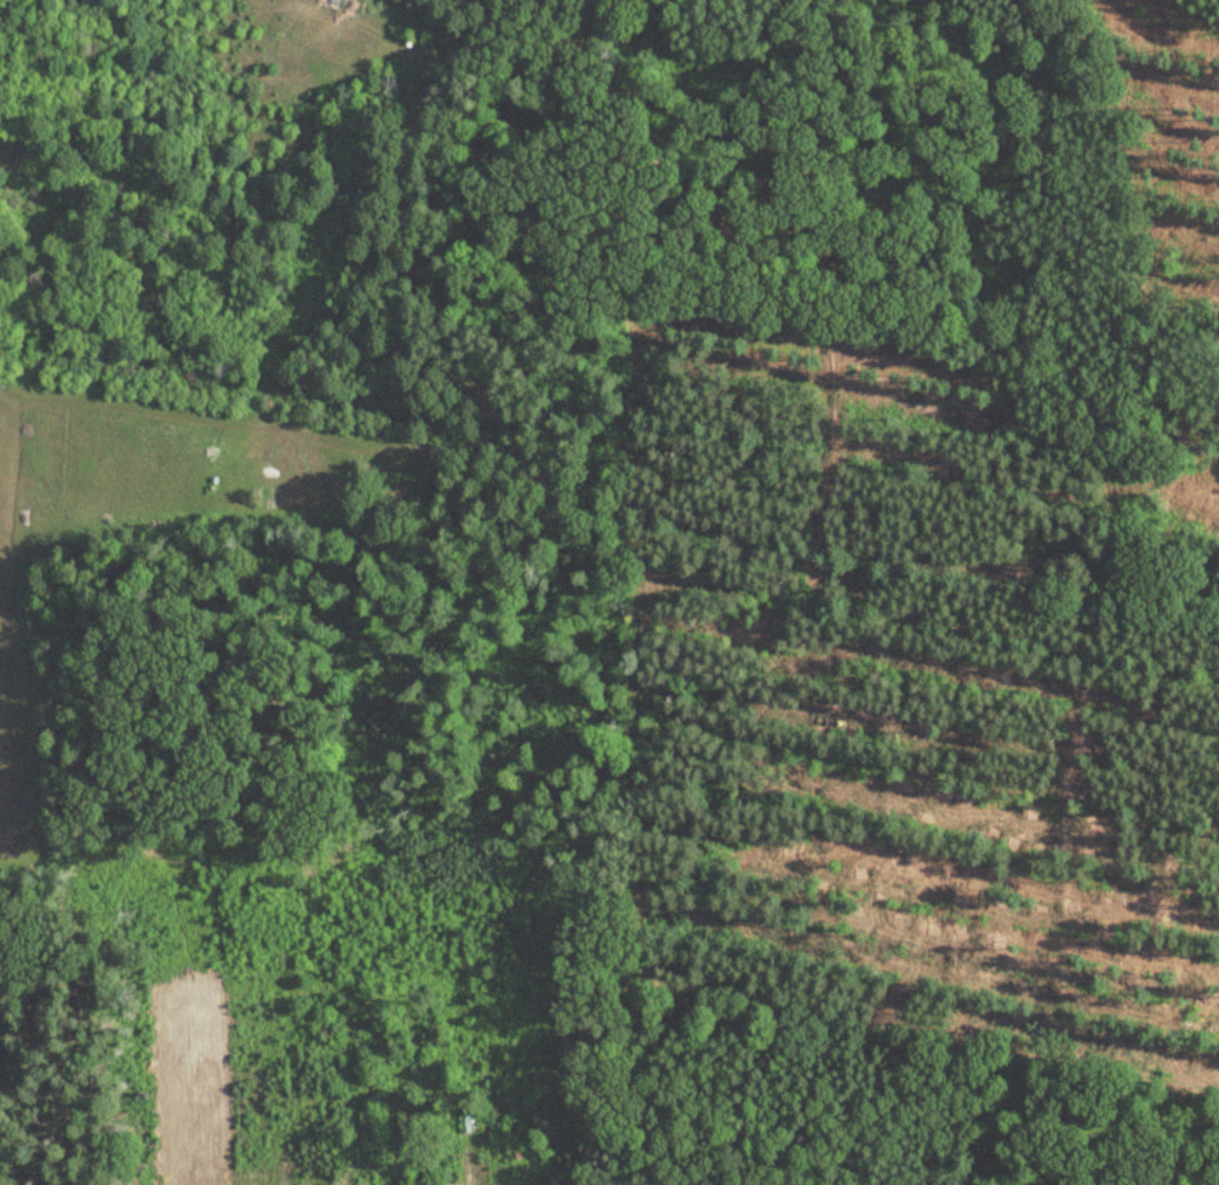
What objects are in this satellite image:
building: (464, 1124)

